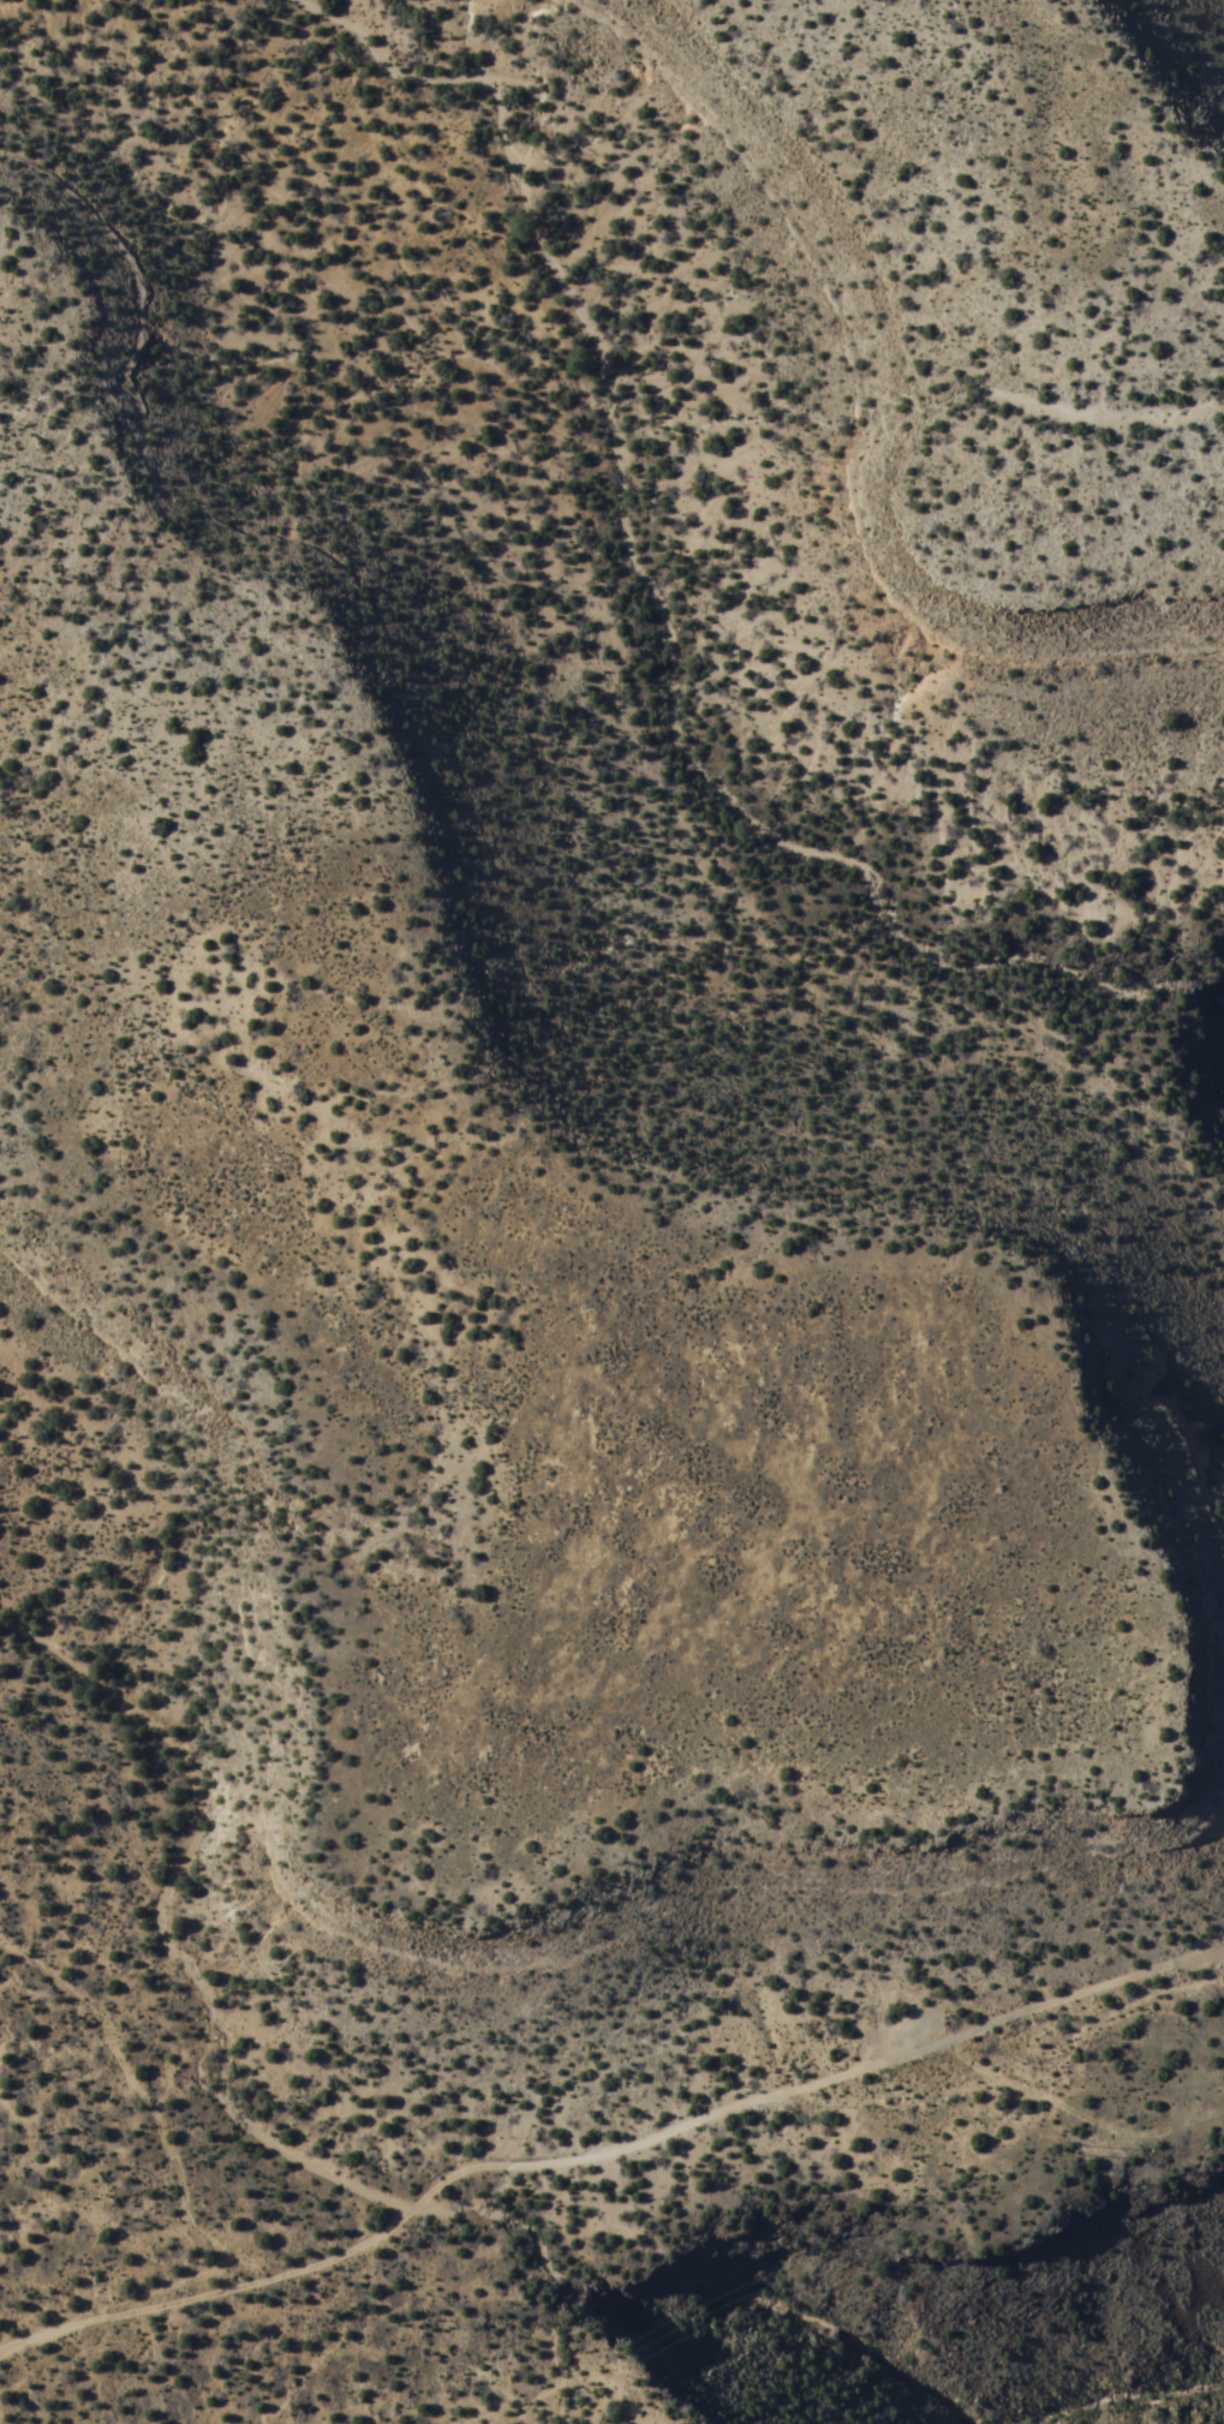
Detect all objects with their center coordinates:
road: (604, 2147)

